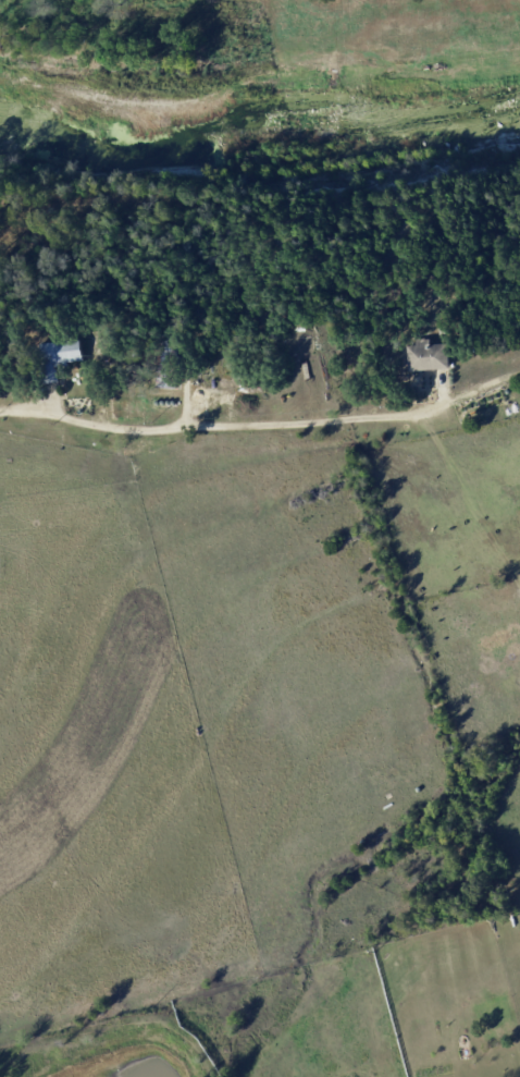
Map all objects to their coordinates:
river: (259, 138)
building: (71, 352)
building: (429, 355)
road: (251, 425)

